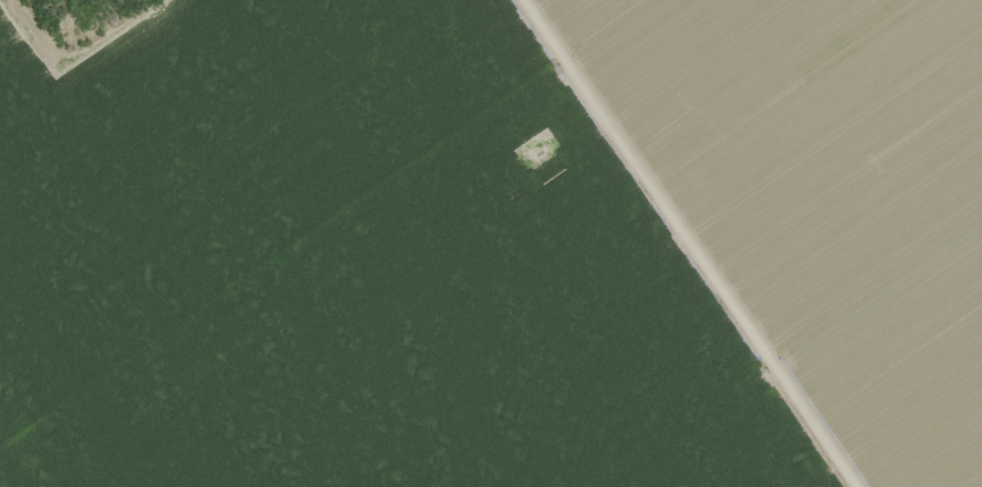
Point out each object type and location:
road: (431, 255)

